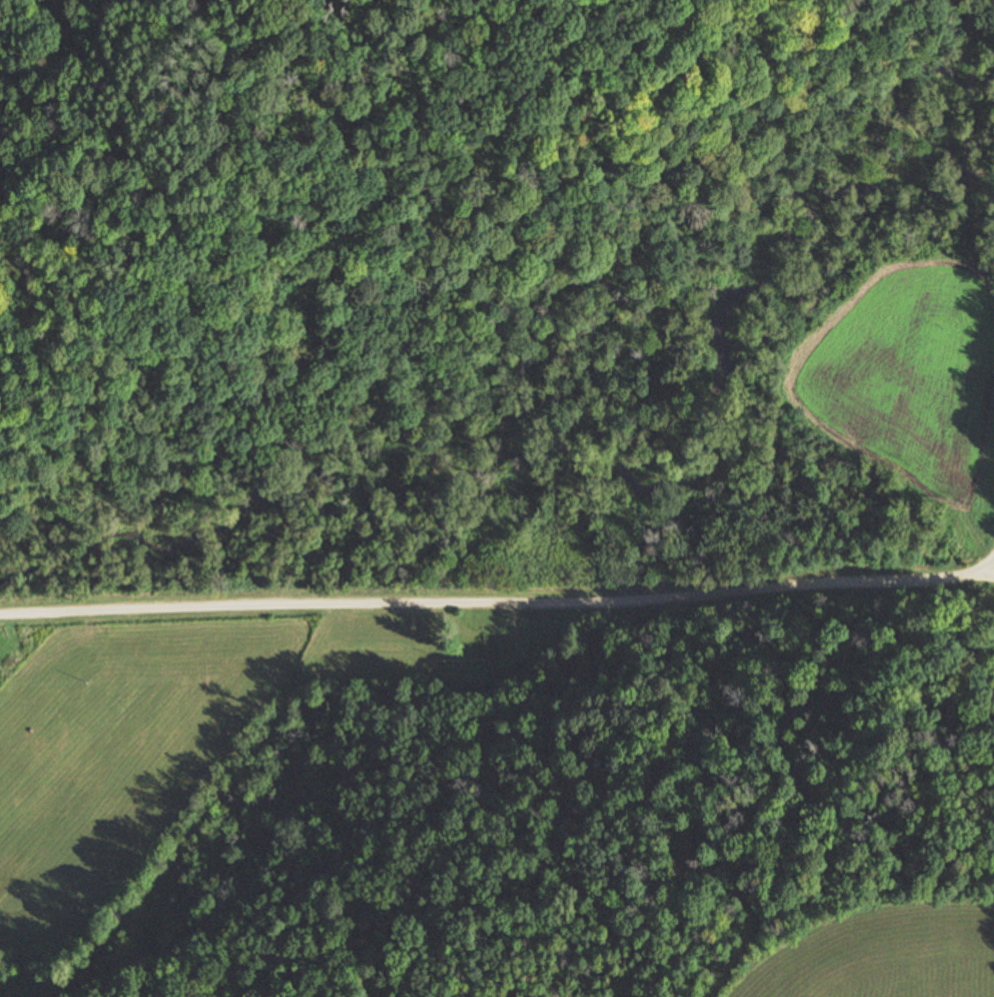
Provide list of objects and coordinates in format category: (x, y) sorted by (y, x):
road: (497, 603)

